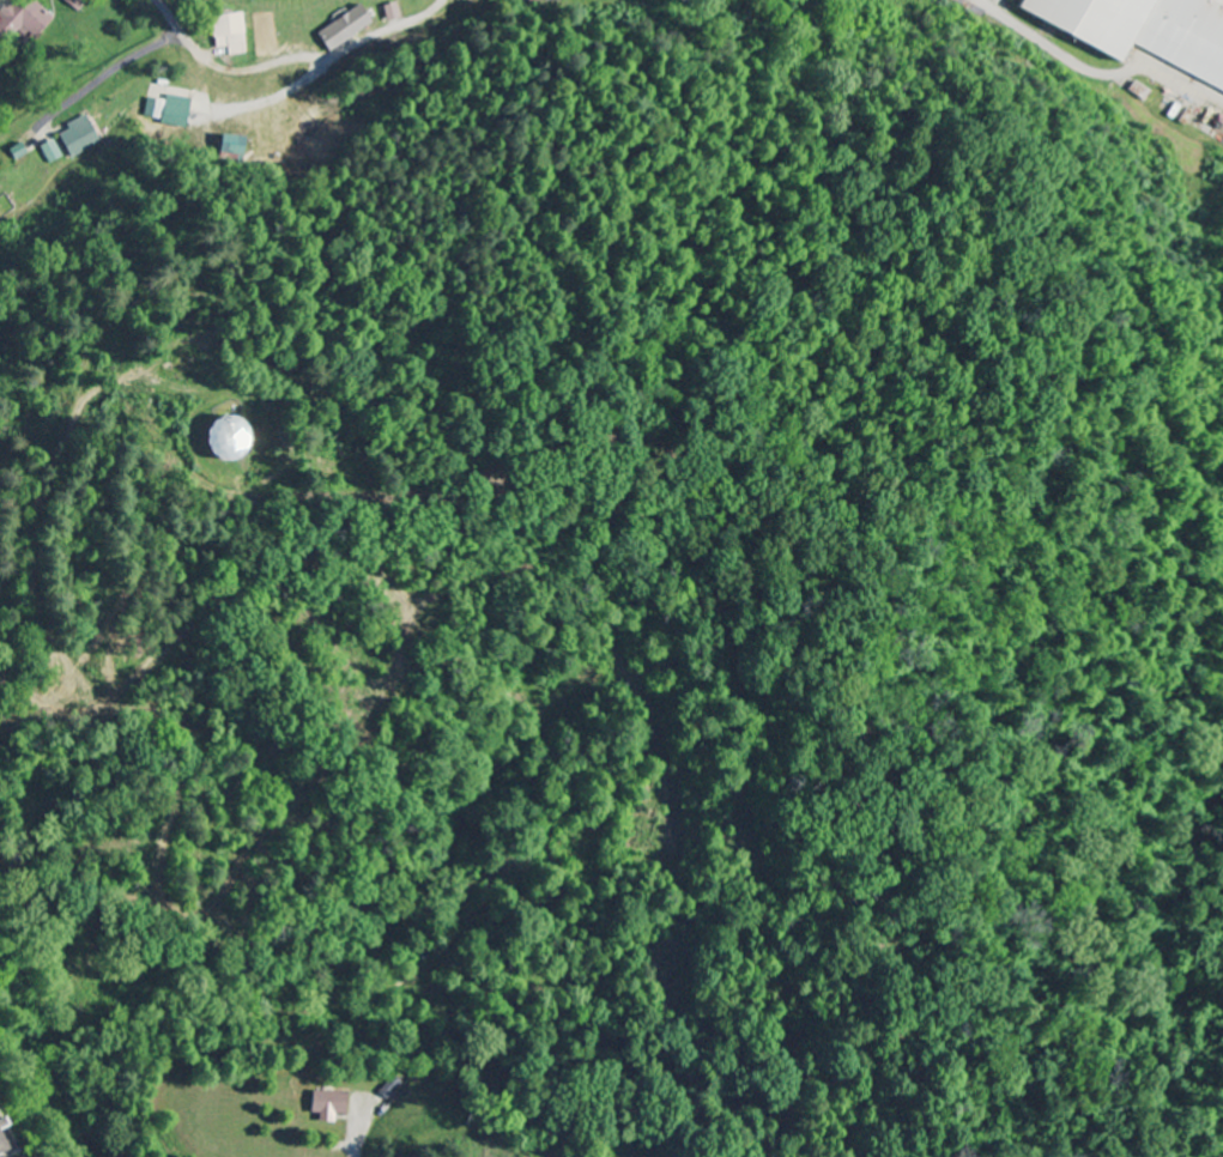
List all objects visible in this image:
building: (533, 0)
building: (74, 4)
building: (389, 12)
building: (24, 17)
building: (343, 28)
building: (1145, 31)
building: (225, 34)
building: (165, 110)
building: (77, 137)
building: (48, 151)
building: (219, 438)
building: (325, 1105)
building: (1, 1125)
building: (2, 1147)

